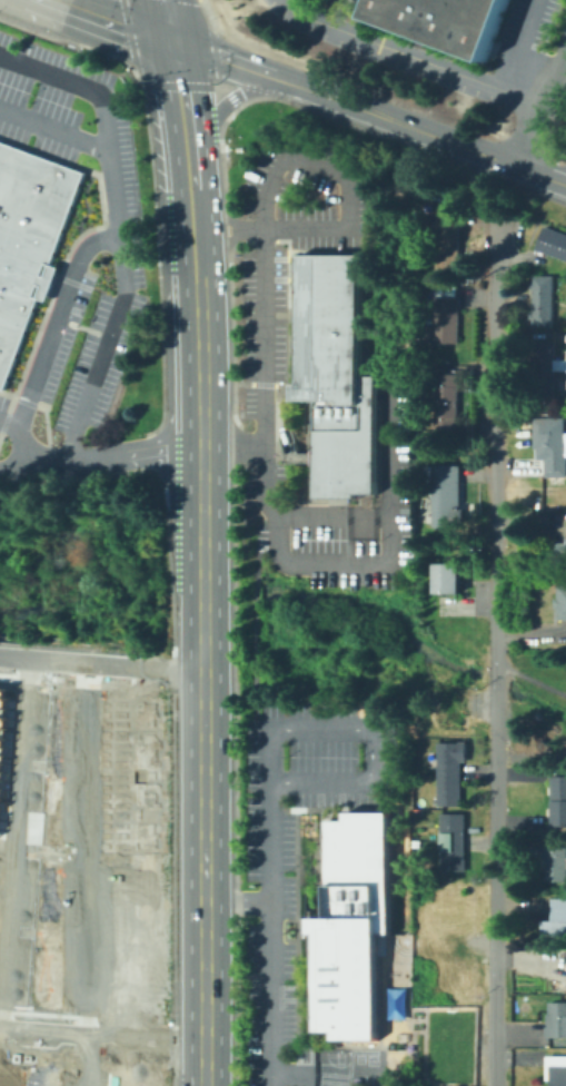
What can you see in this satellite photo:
road: (334, 12)
road: (210, 14)
road: (169, 21)
road: (111, 22)
building: (464, 26)
traffic signals: (173, 43)
road: (530, 47)
road: (409, 55)
road: (228, 62)
road: (171, 85)
road: (182, 91)
road: (228, 93)
road: (230, 99)
road: (536, 107)
road: (400, 124)
road: (56, 130)
road: (339, 172)
road: (540, 175)
road: (151, 181)
building: (408, 192)
road: (158, 215)
road: (121, 225)
road: (248, 229)
road: (256, 229)
building: (31, 241)
building: (553, 243)
building: (446, 244)
building: (544, 300)
building: (446, 315)
road: (60, 322)
building: (544, 368)
building: (336, 375)
building: (445, 403)
road: (228, 416)
road: (8, 423)
road: (156, 428)
road: (21, 442)
building: (552, 444)
road: (157, 450)
road: (143, 451)
road: (12, 463)
road: (157, 472)
building: (447, 495)
road: (332, 516)
road: (277, 540)
building: (560, 549)
building: (448, 579)
building: (562, 602)
road: (252, 604)
road: (202, 613)
road: (85, 649)
road: (497, 650)
road: (101, 663)
road: (532, 679)
road: (83, 681)
building: (0, 698)
building: (448, 704)
park: (536, 708)
road: (395, 742)
road: (167, 746)
road: (52, 764)
road: (52, 766)
building: (131, 768)
building: (450, 772)
road: (348, 781)
building: (558, 800)
road: (12, 841)
building: (453, 842)
road: (222, 851)
road: (82, 856)
road: (270, 857)
building: (555, 863)
park: (49, 871)
road: (85, 873)
road: (296, 885)
road: (236, 900)
road: (284, 919)
building: (556, 919)
building: (350, 924)
road: (46, 930)
building: (131, 931)
road: (41, 934)
road: (297, 990)
road: (83, 1015)
road: (69, 1018)
building: (556, 1020)
road: (378, 1025)
road: (66, 1031)
road: (69, 1031)
road: (155, 1034)
road: (339, 1041)
road: (189, 1045)
road: (152, 1047)
road: (67, 1048)
road: (83, 1056)
park: (39, 1063)
building: (552, 1068)
road: (34, 1069)
building: (130, 1074)
road: (308, 1074)

